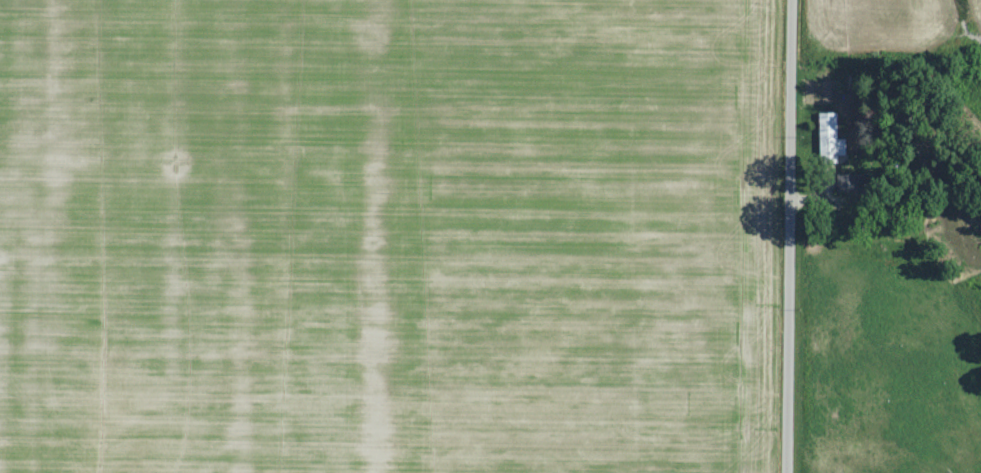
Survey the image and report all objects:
building: (832, 135)
building: (857, 182)
road: (785, 236)

